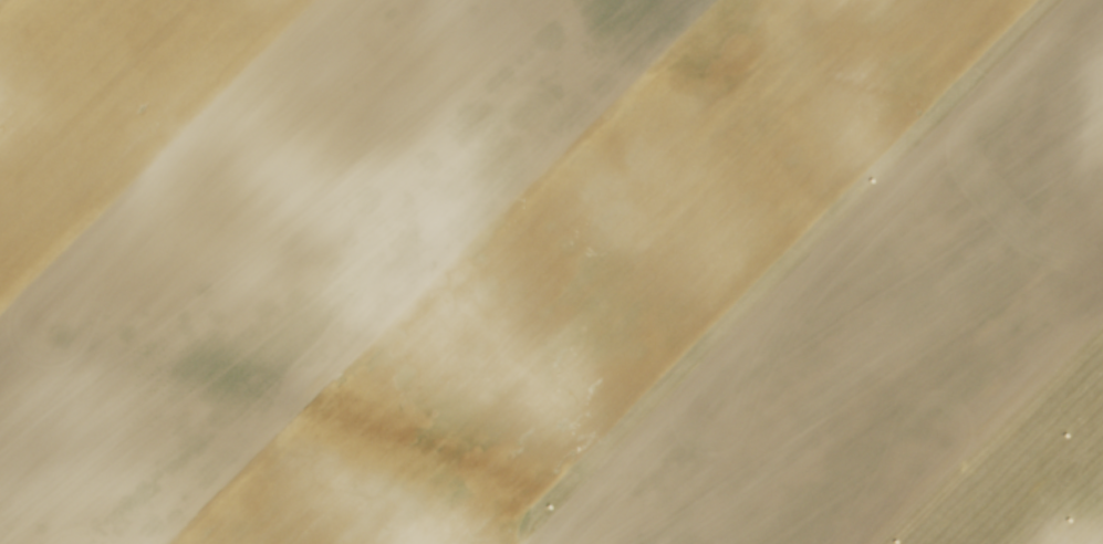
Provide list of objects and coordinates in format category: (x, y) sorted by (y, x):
crop: (551, 272)

